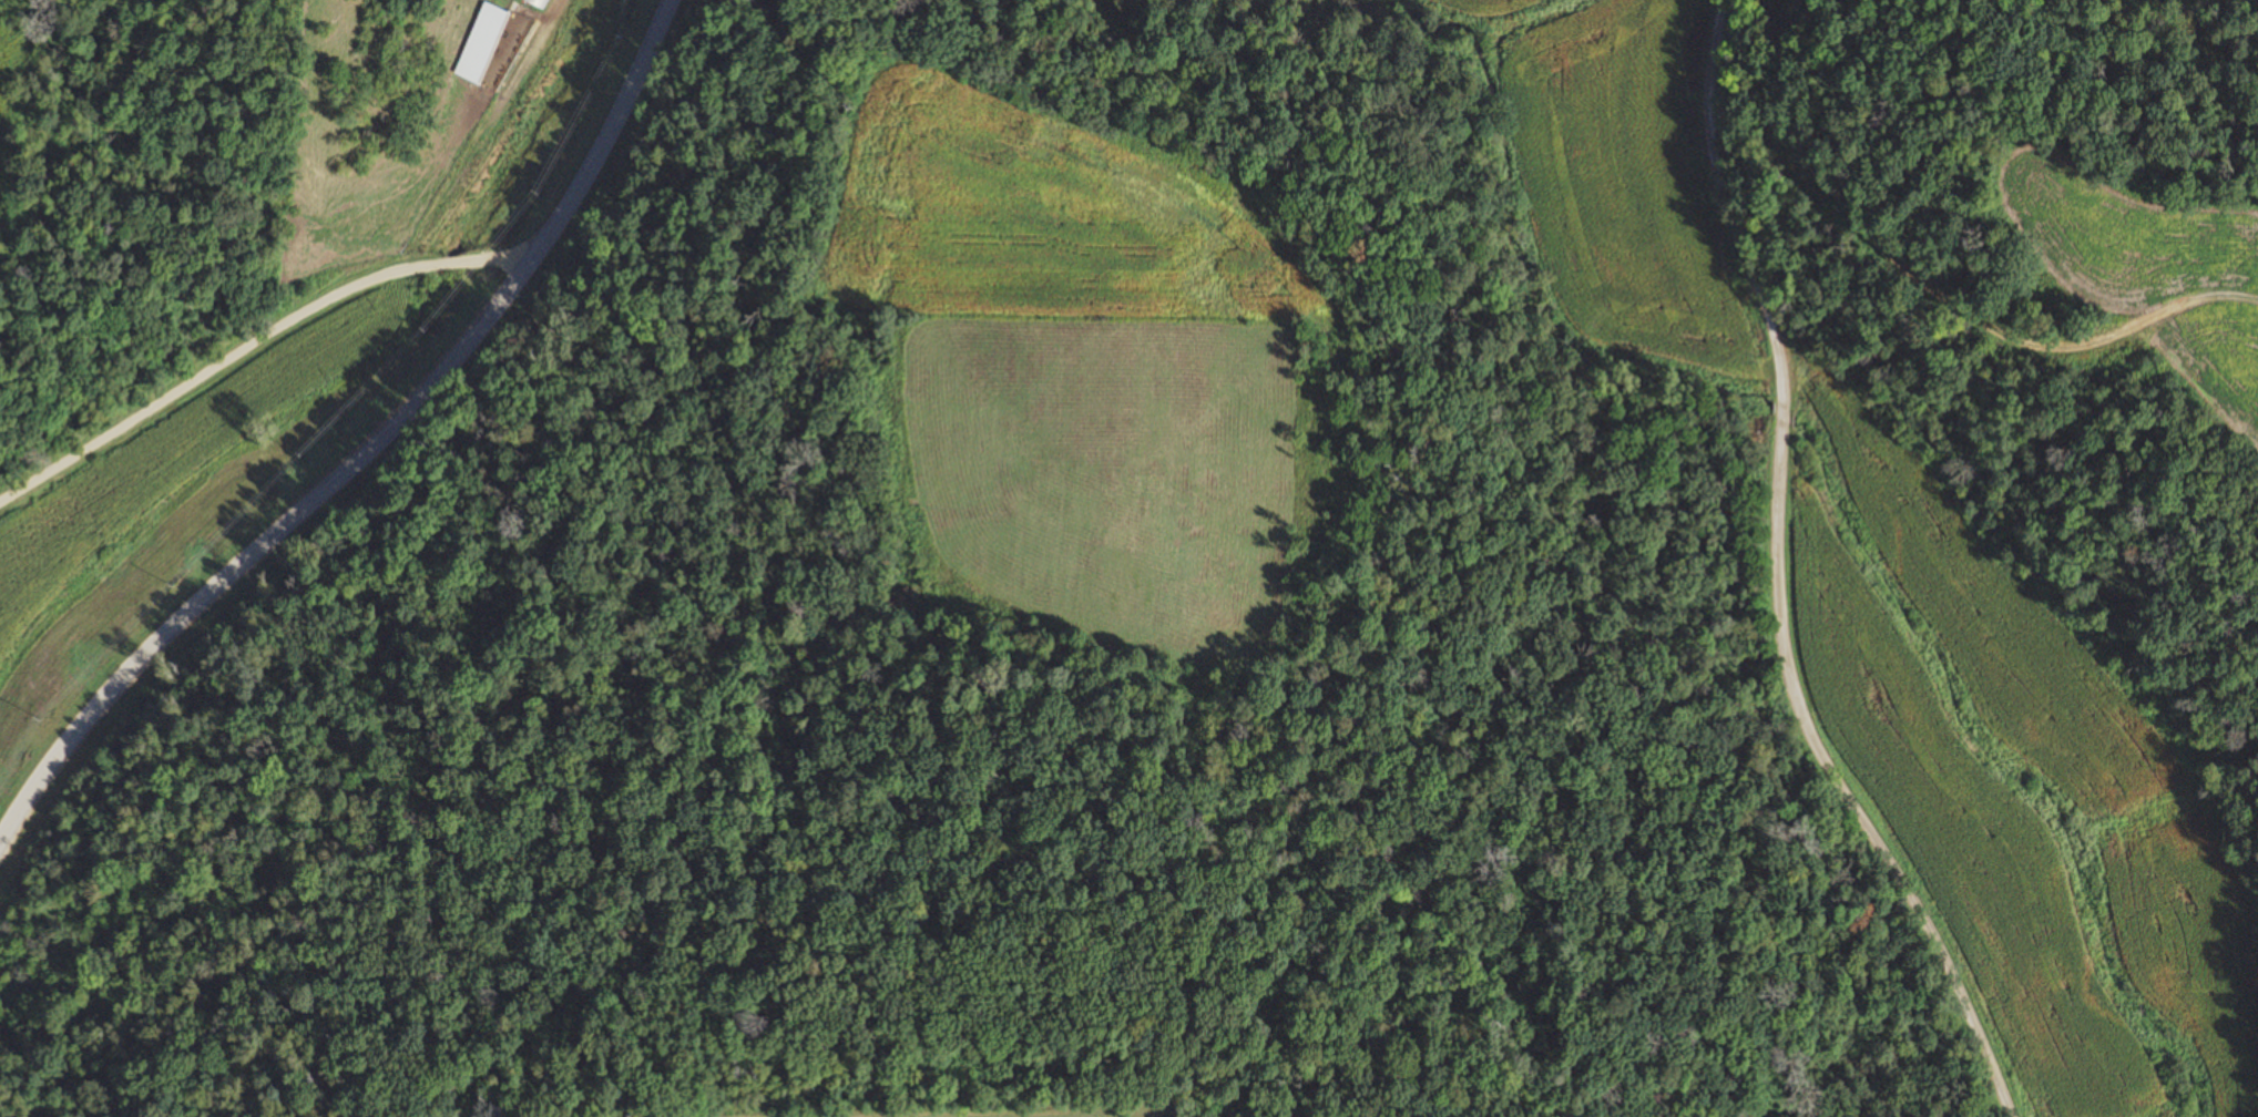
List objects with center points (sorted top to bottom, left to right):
building: (538, 2)
building: (477, 42)
road: (255, 347)
road: (376, 450)
road: (1718, 578)

